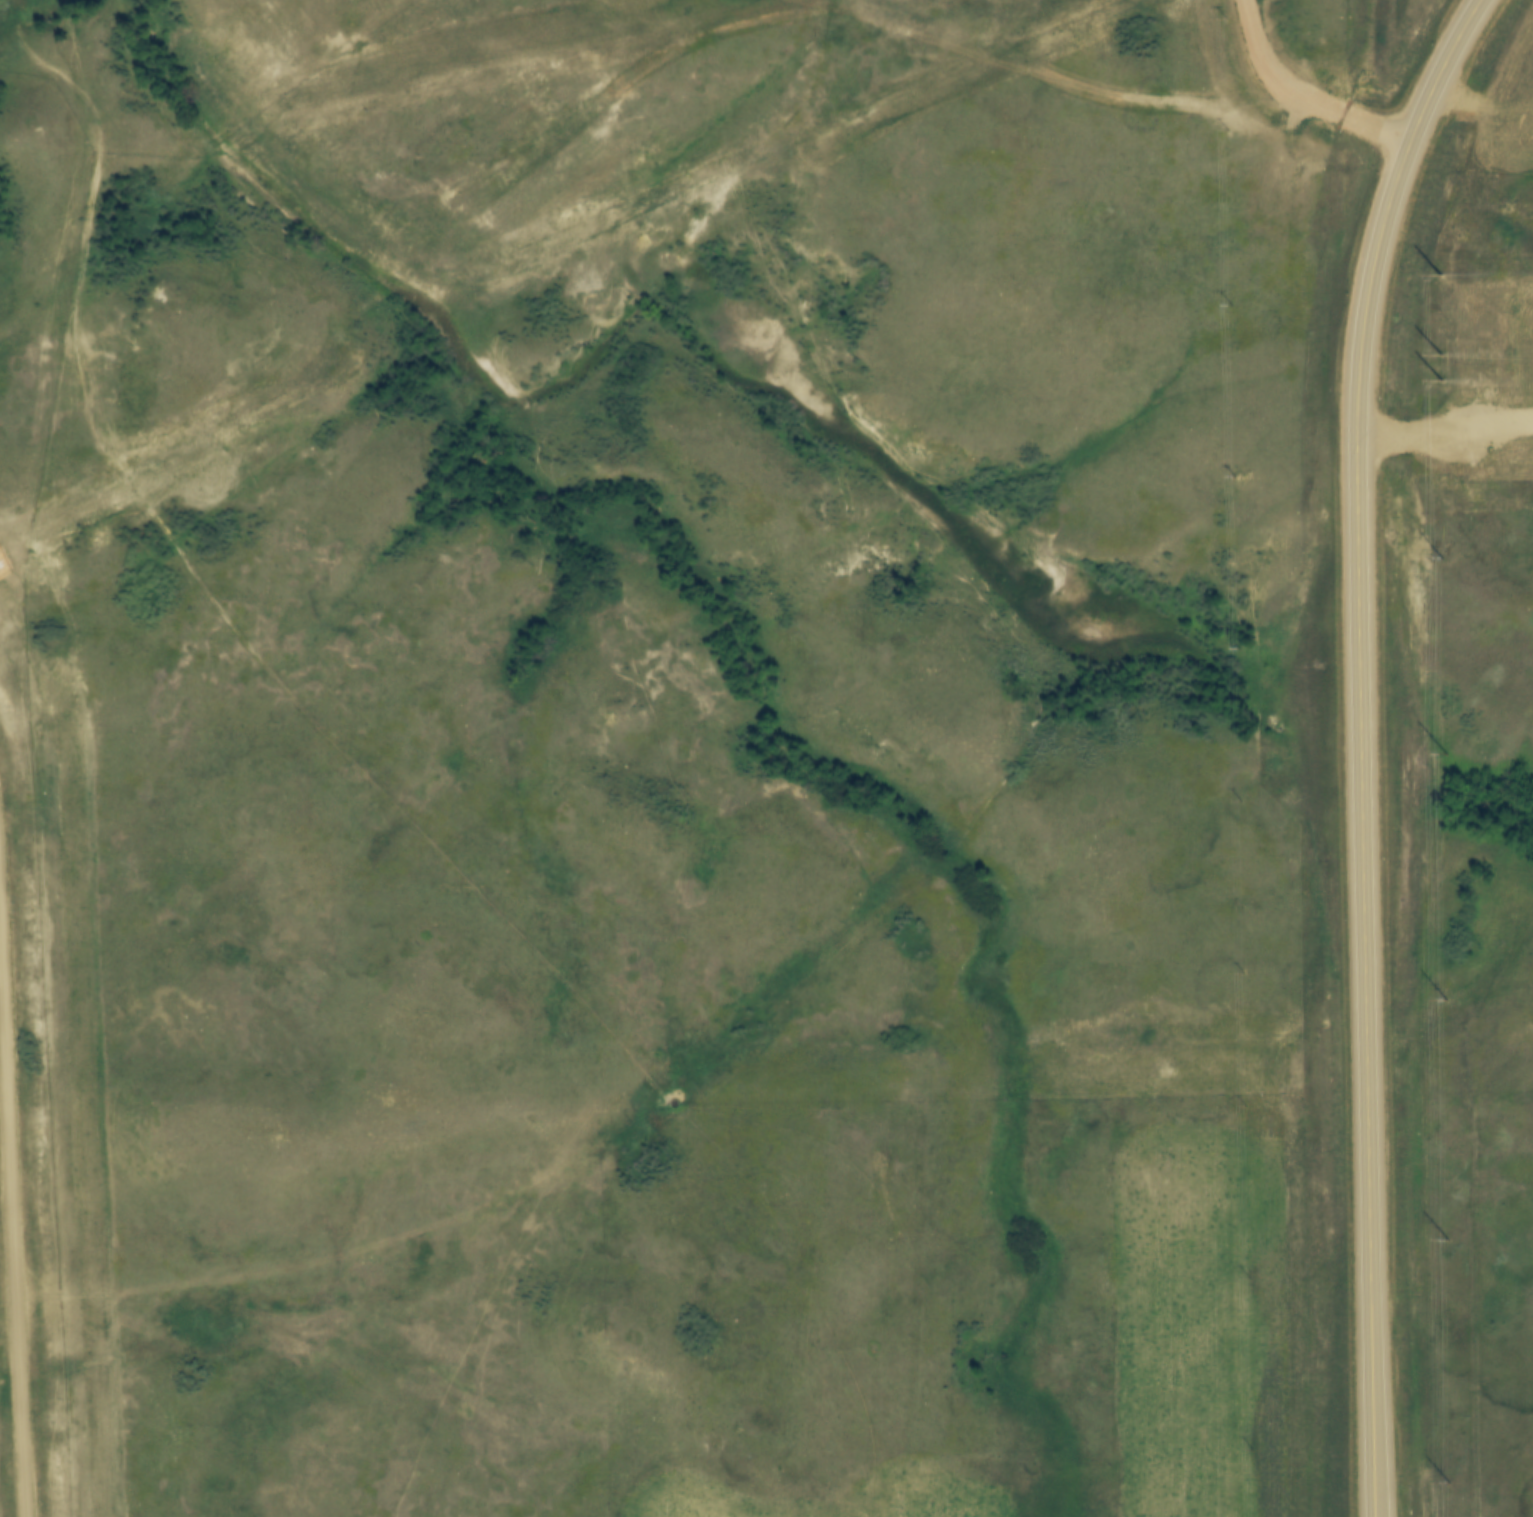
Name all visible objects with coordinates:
road: (1080, 94)
road: (1275, 106)
road: (1381, 758)
road: (14, 1211)

